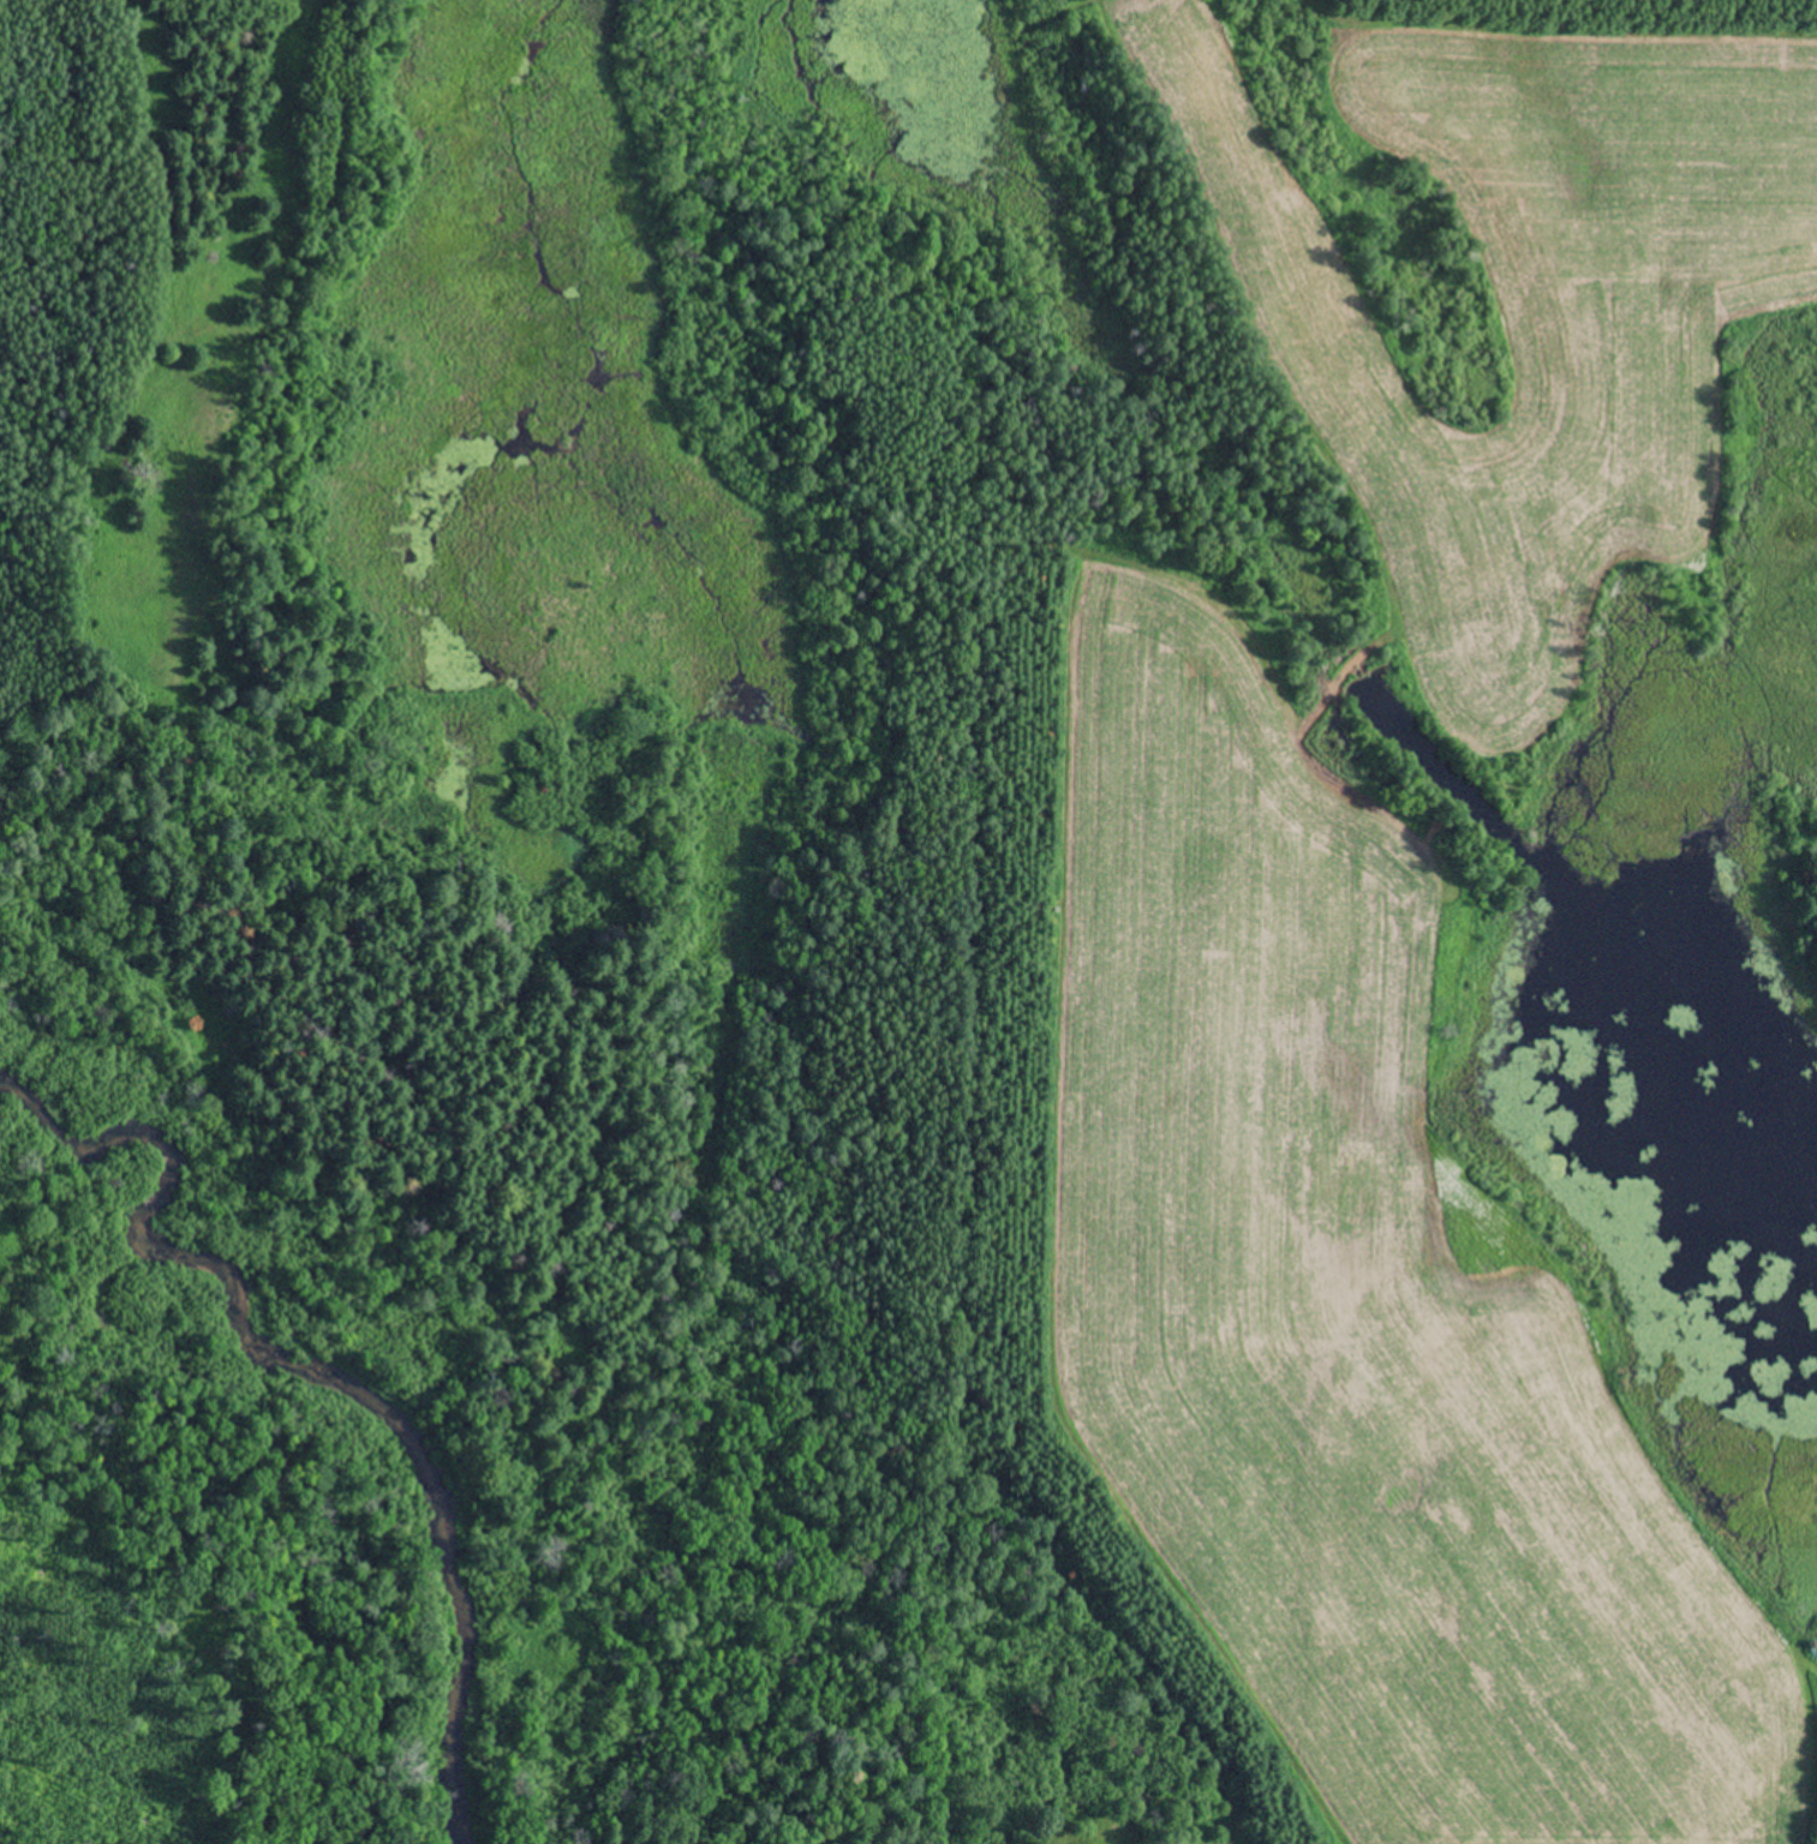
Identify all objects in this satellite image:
river: (225, 1285)
river: (441, 1693)

